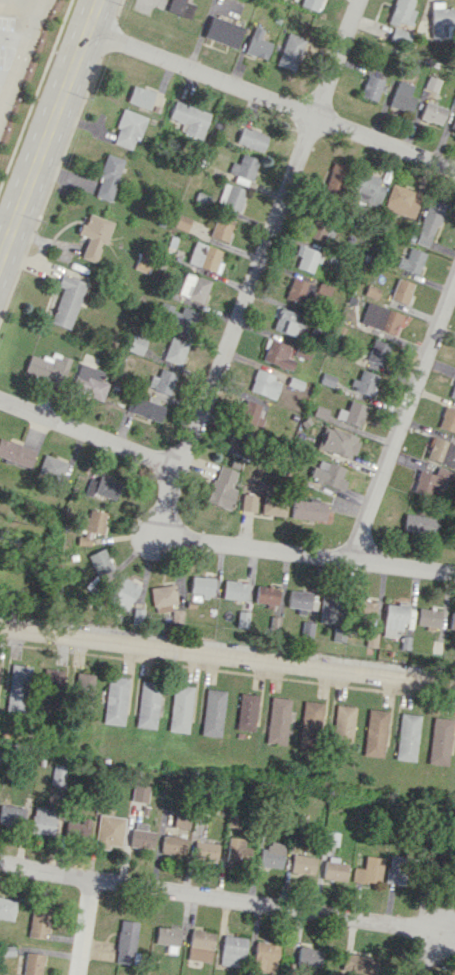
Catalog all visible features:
building: (310, 4)
building: (180, 7)
building: (401, 12)
building: (440, 19)
building: (222, 31)
building: (399, 35)
road: (13, 40)
building: (257, 44)
parking lot: (17, 45)
building: (290, 51)
road: (20, 56)
road: (6, 75)
building: (432, 84)
building: (371, 87)
building: (402, 96)
building: (140, 97)
road: (271, 100)
building: (432, 112)
building: (190, 118)
building: (454, 125)
building: (128, 129)
road: (49, 130)
building: (252, 139)
building: (243, 169)
building: (107, 177)
building: (335, 179)
building: (368, 190)
building: (231, 196)
building: (402, 200)
building: (182, 222)
building: (428, 223)
building: (222, 227)
building: (320, 231)
road: (268, 233)
building: (93, 235)
building: (204, 256)
building: (307, 258)
building: (411, 260)
building: (144, 261)
building: (194, 287)
building: (297, 290)
building: (401, 290)
building: (67, 301)
building: (183, 318)
building: (381, 318)
building: (288, 322)
building: (136, 344)
building: (175, 350)
building: (377, 352)
building: (278, 354)
building: (48, 367)
building: (328, 379)
building: (89, 381)
building: (162, 381)
building: (365, 381)
building: (264, 384)
building: (453, 391)
building: (146, 407)
building: (352, 413)
building: (447, 420)
road: (402, 421)
road: (89, 434)
building: (337, 442)
building: (236, 443)
building: (441, 451)
building: (16, 452)
building: (52, 467)
building: (328, 474)
building: (431, 480)
building: (103, 487)
building: (223, 487)
building: (273, 501)
building: (248, 502)
building: (308, 510)
building: (419, 523)
building: (91, 525)
road: (139, 540)
road: (277, 552)
building: (100, 561)
building: (201, 585)
building: (234, 590)
building: (123, 592)
building: (266, 595)
building: (164, 597)
building: (298, 599)
building: (329, 609)
building: (368, 612)
building: (428, 617)
building: (394, 618)
building: (242, 619)
building: (452, 624)
building: (306, 629)
building: (371, 640)
road: (227, 656)
building: (52, 684)
building: (18, 688)
building: (83, 691)
building: (117, 700)
building: (148, 703)
building: (181, 708)
building: (247, 711)
building: (213, 712)
building: (278, 720)
building: (309, 725)
building: (342, 727)
building: (375, 732)
building: (408, 737)
building: (440, 741)
building: (58, 775)
building: (140, 792)
building: (11, 814)
building: (234, 819)
building: (43, 820)
building: (78, 828)
building: (109, 831)
building: (141, 836)
building: (331, 838)
building: (173, 844)
building: (235, 850)
building: (205, 851)
building: (270, 855)
building: (302, 863)
building: (334, 870)
building: (369, 870)
building: (399, 870)
road: (218, 897)
building: (7, 908)
building: (38, 922)
road: (83, 926)
building: (167, 935)
building: (126, 941)
building: (200, 945)
building: (7, 950)
building: (232, 951)
road: (425, 952)
building: (265, 955)
building: (308, 956)
building: (33, 964)
building: (360, 965)

